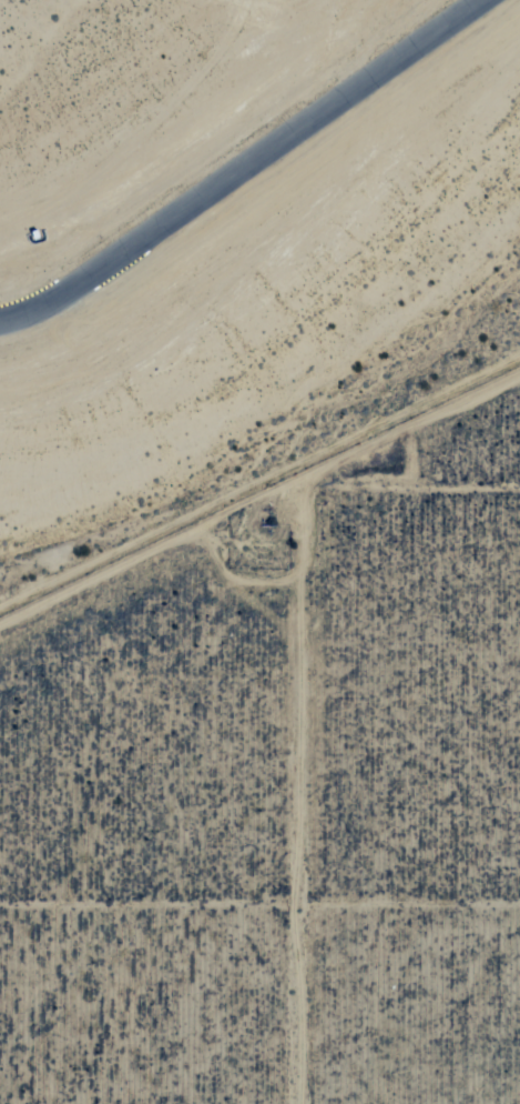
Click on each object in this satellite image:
raceway: (243, 165)
crop: (277, 795)

